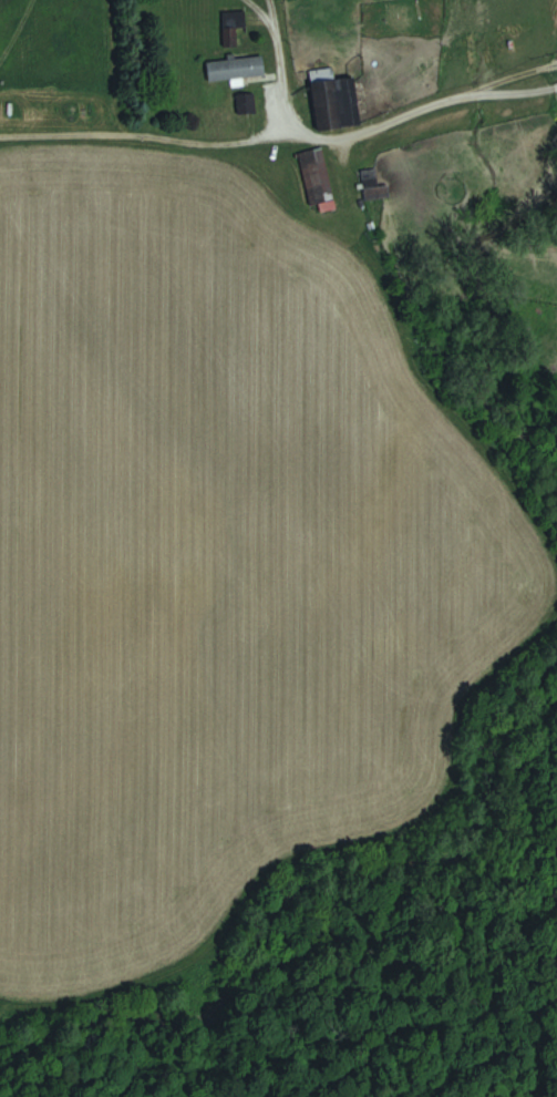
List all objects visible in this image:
road: (269, 11)
building: (233, 27)
building: (238, 69)
road: (285, 74)
building: (347, 100)
building: (245, 104)
road: (281, 136)
building: (318, 178)

